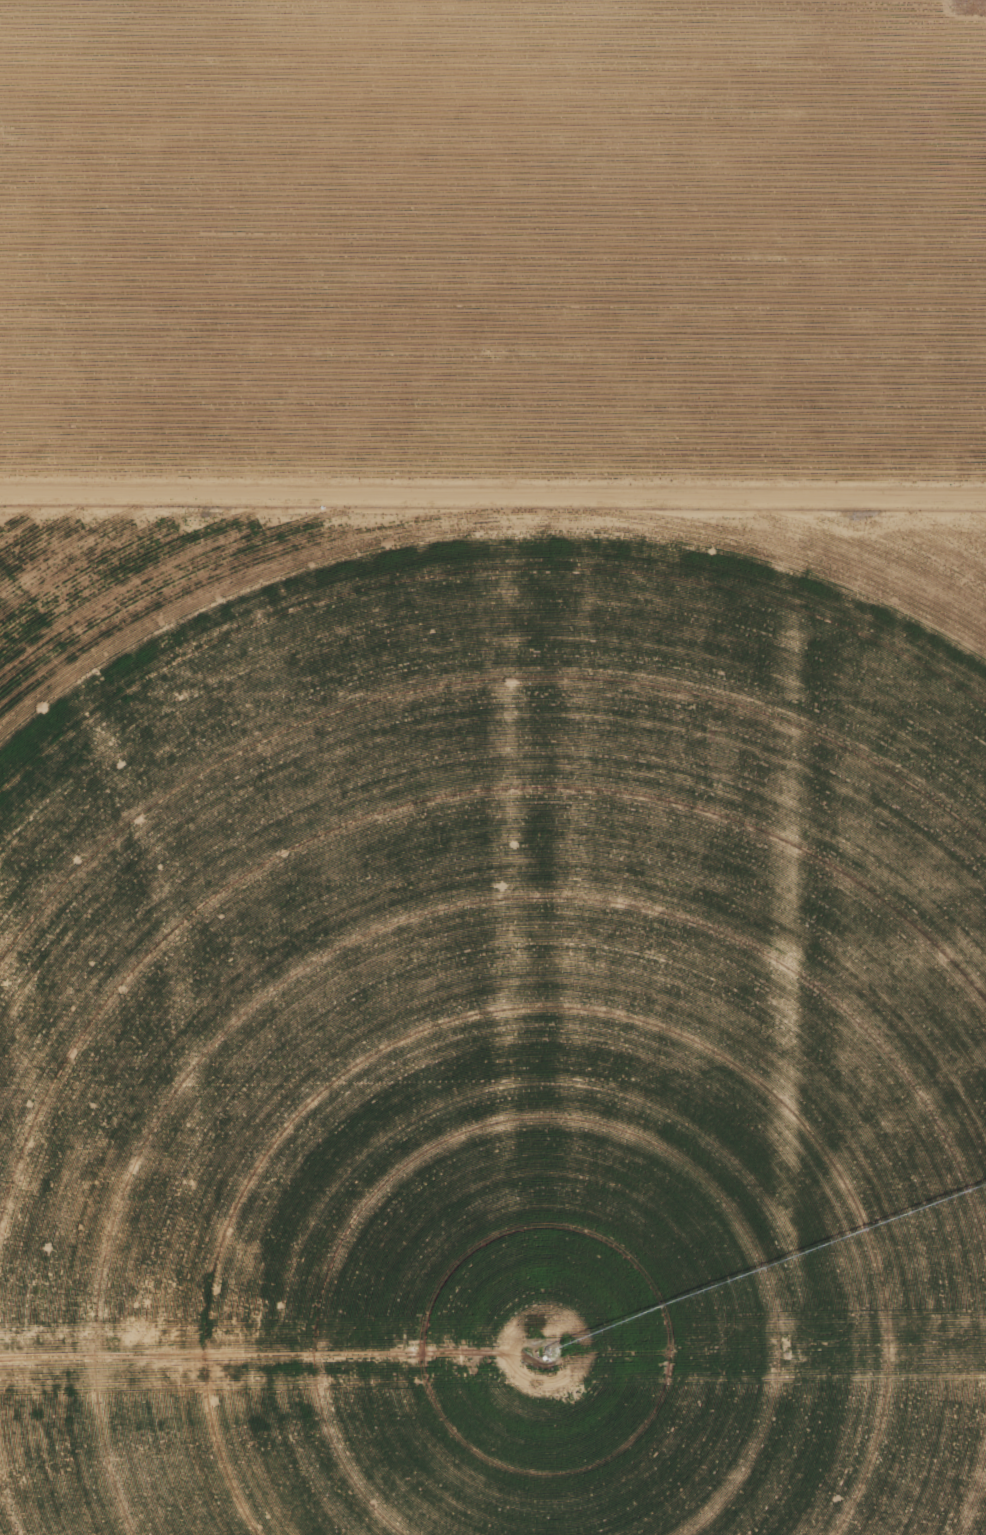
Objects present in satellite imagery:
road: (493, 499)

